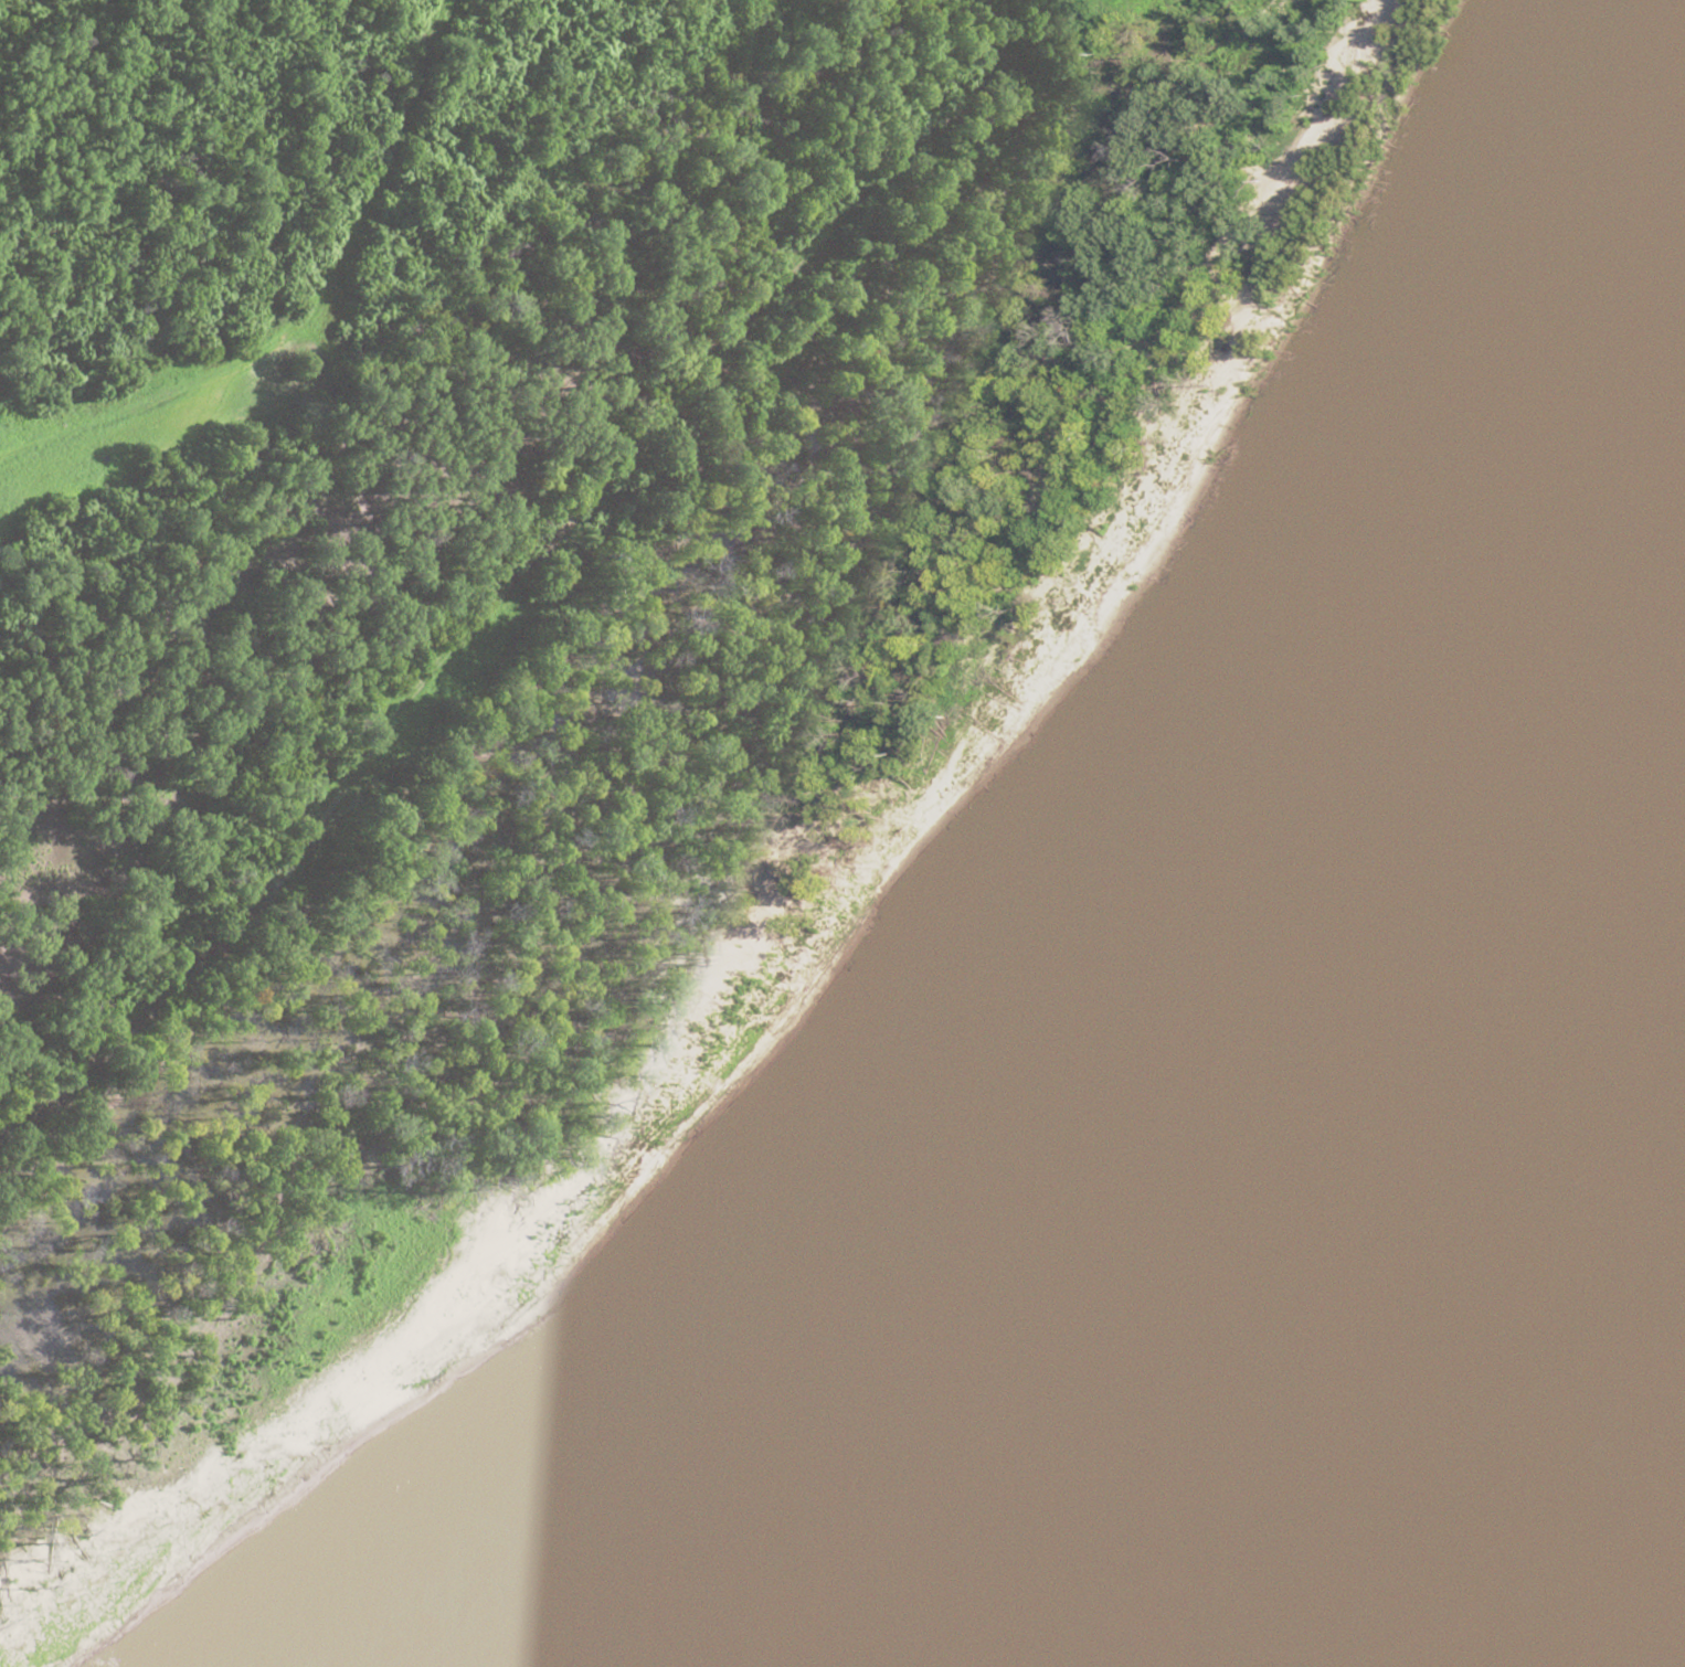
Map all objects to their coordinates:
road: (300, 310)
river: (1569, 1567)

